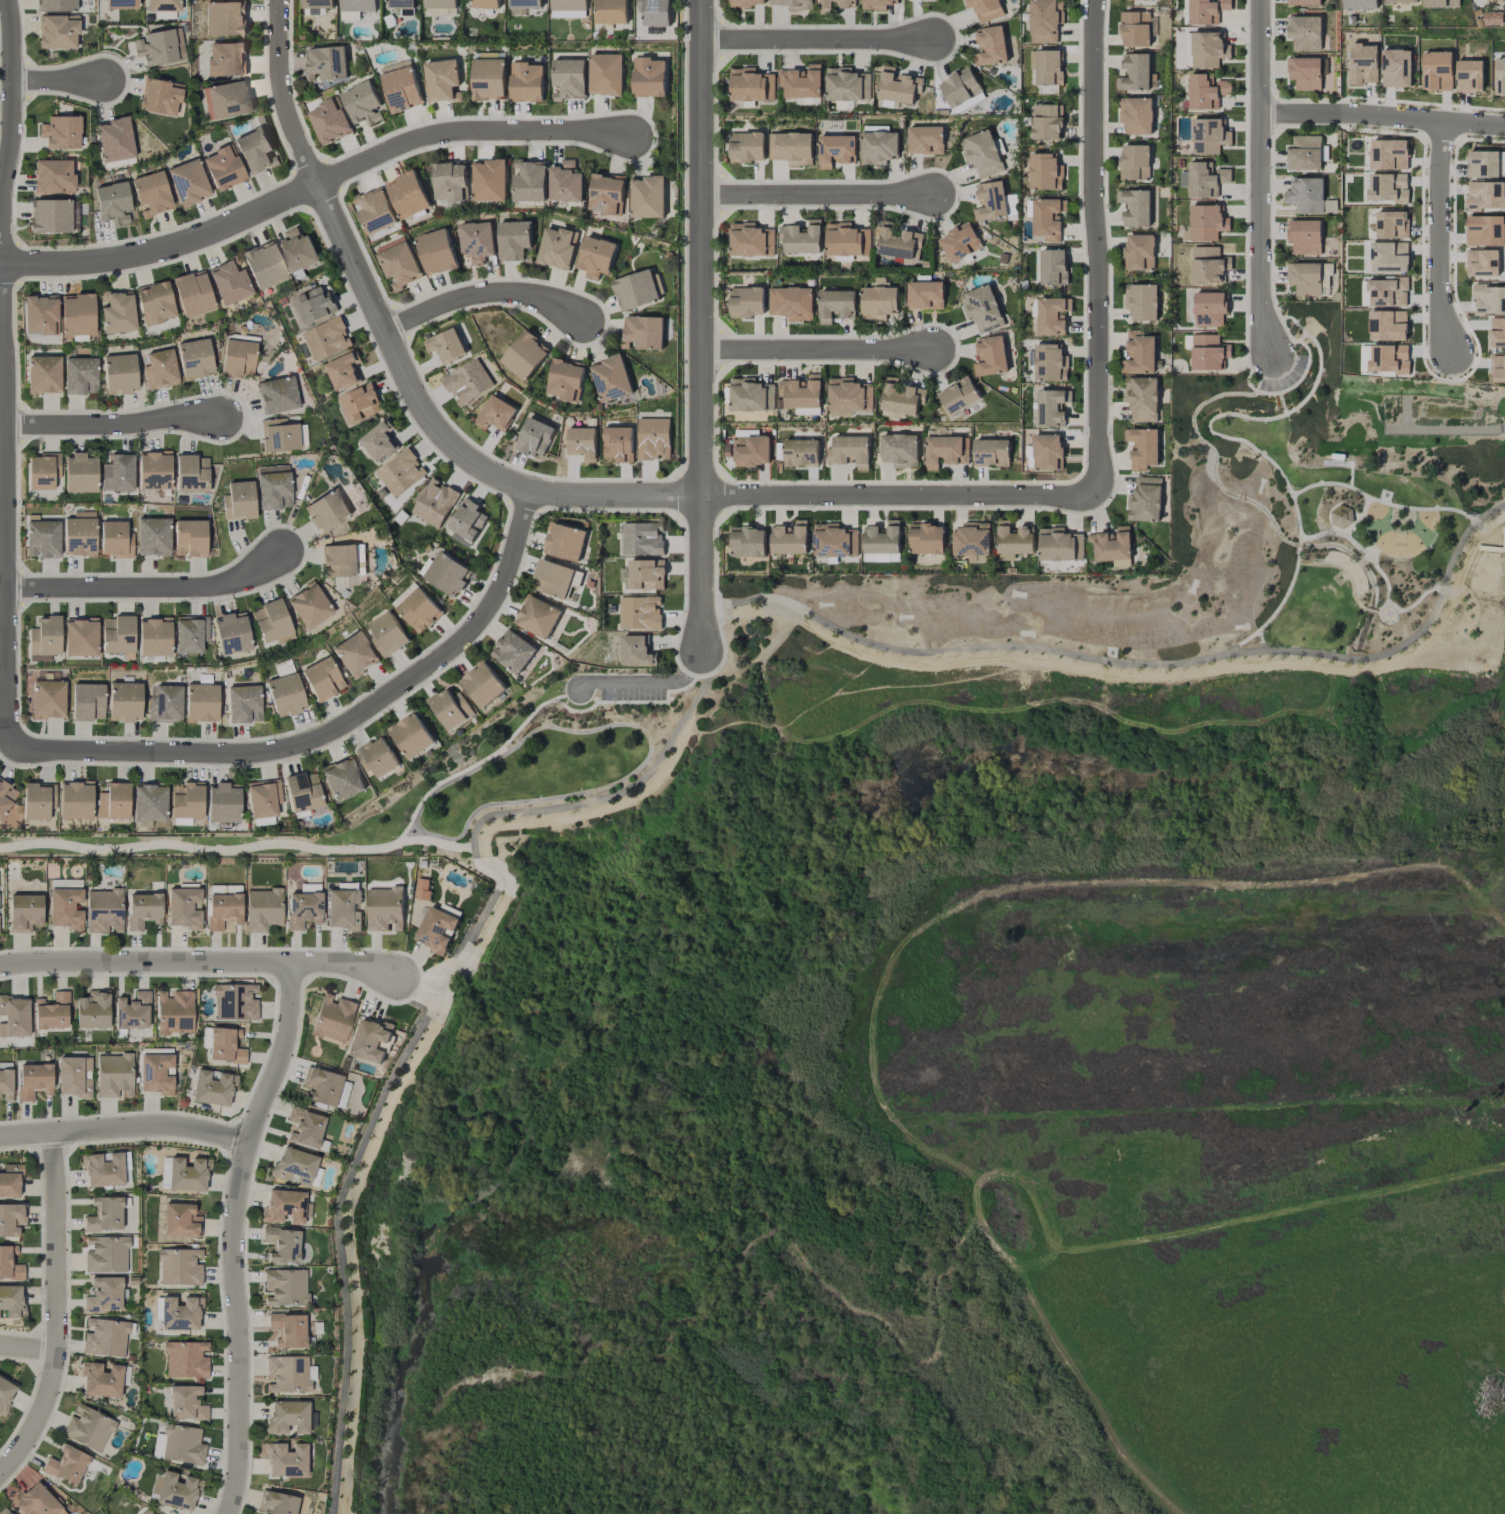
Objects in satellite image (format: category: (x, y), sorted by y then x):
building: (1129, 0)
building: (1400, 1)
building: (1502, 1)
building: (1303, 2)
building: (747, 3)
building: (1441, 3)
building: (121, 4)
building: (318, 4)
building: (402, 4)
building: (441, 4)
building: (486, 4)
building: (525, 4)
building: (794, 4)
building: (836, 4)
building: (877, 4)
building: (1359, 4)
building: (55, 5)
building: (162, 5)
building: (358, 5)
building: (568, 8)
building: (985, 9)
building: (442, 11)
building: (611, 11)
building: (1207, 11)
building: (655, 12)
building: (350, 16)
building: (225, 18)
building: (1045, 20)
building: (1137, 29)
building: (58, 31)
building: (1304, 33)
road: (815, 40)
building: (991, 46)
building: (160, 47)
building: (1208, 50)
building: (225, 59)
building: (326, 63)
building: (1363, 64)
building: (1046, 67)
building: (1396, 68)
building: (1437, 71)
building: (1135, 73)
building: (1304, 73)
building: (606, 74)
building: (1469, 76)
building: (1499, 76)
building: (648, 77)
road: (55, 79)
building: (489, 79)
building: (569, 79)
building: (442, 80)
building: (526, 82)
building: (802, 82)
building: (751, 85)
building: (847, 85)
building: (401, 86)
building: (898, 86)
building: (960, 87)
building: (1206, 92)
building: (159, 96)
building: (226, 100)
building: (363, 104)
building: (1136, 115)
road: (1381, 117)
building: (330, 122)
building: (1047, 122)
building: (60, 132)
building: (1208, 136)
building: (114, 139)
building: (925, 140)
building: (747, 147)
building: (878, 147)
building: (791, 148)
building: (256, 151)
building: (835, 151)
building: (982, 154)
building: (1305, 154)
building: (1388, 155)
building: (1135, 162)
building: (1486, 164)
building: (223, 168)
building: (1045, 172)
building: (53, 176)
road: (1258, 179)
building: (489, 180)
building: (1203, 180)
building: (450, 181)
building: (529, 181)
building: (188, 182)
building: (566, 182)
road: (314, 184)
building: (1388, 188)
building: (151, 194)
building: (606, 194)
road: (818, 194)
building: (408, 195)
building: (647, 196)
building: (1306, 196)
building: (1485, 196)
building: (990, 201)
building: (113, 202)
building: (1135, 207)
building: (375, 211)
building: (50, 215)
building: (1047, 219)
building: (1207, 223)
building: (1392, 224)
building: (1485, 231)
road: (1437, 235)
building: (1305, 237)
building: (801, 238)
building: (514, 240)
building: (751, 240)
building: (477, 241)
building: (847, 241)
building: (898, 242)
building: (960, 242)
road: (1100, 248)
building: (556, 249)
building: (298, 251)
building: (436, 252)
building: (1139, 252)
building: (595, 257)
building: (1389, 257)
building: (398, 263)
building: (1482, 263)
building: (263, 265)
building: (1208, 265)
building: (1053, 267)
building: (1310, 279)
building: (229, 282)
building: (637, 289)
road: (484, 290)
building: (193, 293)
building: (1387, 293)
building: (925, 295)
building: (1489, 300)
building: (747, 302)
building: (1141, 302)
building: (154, 303)
building: (791, 303)
building: (878, 303)
building: (836, 305)
building: (314, 306)
building: (983, 309)
building: (1210, 309)
building: (117, 312)
building: (40, 314)
building: (77, 314)
building: (1052, 316)
road: (700, 323)
building: (1387, 326)
road: (1285, 330)
building: (643, 332)
building: (1497, 333)
road: (1298, 338)
building: (327, 339)
building: (445, 345)
road: (395, 348)
road: (815, 348)
road: (1281, 349)
building: (1208, 352)
building: (1139, 353)
building: (525, 356)
building: (990, 356)
building: (194, 358)
building: (237, 358)
building: (1389, 359)
building: (1050, 363)
road: (1260, 364)
building: (160, 369)
building: (1498, 369)
building: (343, 371)
road: (3, 373)
building: (119, 373)
building: (43, 374)
building: (80, 375)
parking lot: (1283, 376)
building: (611, 378)
building: (565, 380)
building: (467, 382)
parking lot: (1286, 382)
road: (1292, 387)
building: (801, 392)
building: (277, 395)
building: (751, 396)
building: (959, 396)
building: (849, 397)
building: (901, 398)
building: (1141, 399)
building: (360, 403)
building: (1051, 408)
building: (807, 411)
building: (495, 414)
road: (112, 419)
road: (1503, 427)
building: (278, 435)
building: (535, 438)
building: (653, 439)
building: (378, 441)
road: (1244, 442)
building: (582, 443)
building: (618, 444)
building: (1142, 448)
building: (900, 450)
building: (752, 451)
building: (849, 451)
building: (946, 451)
building: (1047, 452)
building: (800, 453)
building: (991, 453)
building: (154, 470)
building: (42, 471)
building: (400, 472)
building: (80, 473)
building: (118, 473)
building: (191, 473)
building: (274, 489)
road: (900, 494)
building: (1145, 500)
building: (239, 501)
road: (1382, 502)
building: (434, 503)
building: (327, 510)
building: (83, 514)
building: (1341, 517)
building: (467, 520)
building: (79, 536)
building: (153, 536)
building: (190, 538)
building: (882, 538)
building: (42, 539)
building: (115, 539)
building: (641, 539)
building: (790, 539)
building: (926, 539)
building: (971, 539)
building: (834, 541)
building: (1013, 541)
building: (564, 542)
building: (748, 542)
building: (1059, 545)
building: (1112, 547)
road: (1361, 552)
building: (880, 558)
road: (1342, 568)
building: (446, 573)
building: (646, 575)
building: (556, 579)
road: (146, 584)
road: (1412, 604)
building: (309, 605)
building: (416, 608)
road: (1370, 610)
building: (640, 613)
building: (537, 617)
building: (272, 622)
building: (190, 633)
building: (232, 633)
building: (117, 634)
building: (387, 634)
building: (154, 636)
building: (80, 637)
building: (44, 639)
road: (712, 649)
building: (636, 650)
building: (513, 651)
building: (355, 654)
road: (1148, 665)
road: (721, 666)
building: (285, 668)
building: (322, 678)
road: (648, 682)
building: (482, 684)
parking lot: (630, 690)
park: (1050, 691)
building: (285, 694)
building: (48, 699)
building: (124, 701)
building: (87, 702)
road: (632, 702)
building: (201, 703)
building: (165, 704)
building: (244, 704)
building: (451, 709)
road: (329, 729)
building: (411, 736)
building: (377, 757)
road: (485, 759)
road: (631, 772)
building: (342, 779)
building: (303, 792)
building: (6, 797)
building: (264, 798)
building: (38, 800)
building: (76, 800)
building: (187, 800)
building: (114, 801)
building: (149, 802)
building: (223, 803)
road: (527, 812)
road: (243, 848)
building: (65, 908)
building: (183, 908)
building: (263, 909)
building: (303, 909)
building: (343, 909)
building: (384, 909)
building: (143, 910)
building: (223, 910)
building: (104, 911)
building: (24, 912)
building: (436, 930)
road: (198, 962)
road: (454, 979)
road: (423, 981)
building: (235, 1002)
building: (93, 1010)
building: (52, 1011)
building: (132, 1011)
building: (174, 1012)
building: (14, 1016)
building: (333, 1018)
building: (371, 1040)
building: (225, 1045)
building: (156, 1073)
building: (114, 1075)
building: (74, 1076)
building: (34, 1080)
building: (6, 1084)
building: (322, 1086)
building: (213, 1088)
road: (125, 1126)
building: (305, 1127)
building: (294, 1166)
building: (103, 1170)
building: (184, 1174)
building: (9, 1184)
building: (286, 1206)
building: (104, 1214)
building: (11, 1219)
building: (180, 1220)
road: (235, 1234)
building: (281, 1244)
road: (339, 1246)
building: (105, 1254)
building: (9, 1263)
building: (180, 1267)
building: (285, 1287)
building: (12, 1300)
road: (57, 1309)
building: (178, 1313)
building: (288, 1329)
building: (105, 1337)
road: (29, 1346)
building: (186, 1359)
building: (288, 1374)
building: (101, 1380)
building: (5, 1394)
building: (186, 1403)
building: (288, 1417)
building: (88, 1427)
building: (182, 1444)
building: (286, 1460)
building: (66, 1465)
building: (177, 1490)
building: (277, 1503)
building: (5, 1512)
building: (147, 1512)

